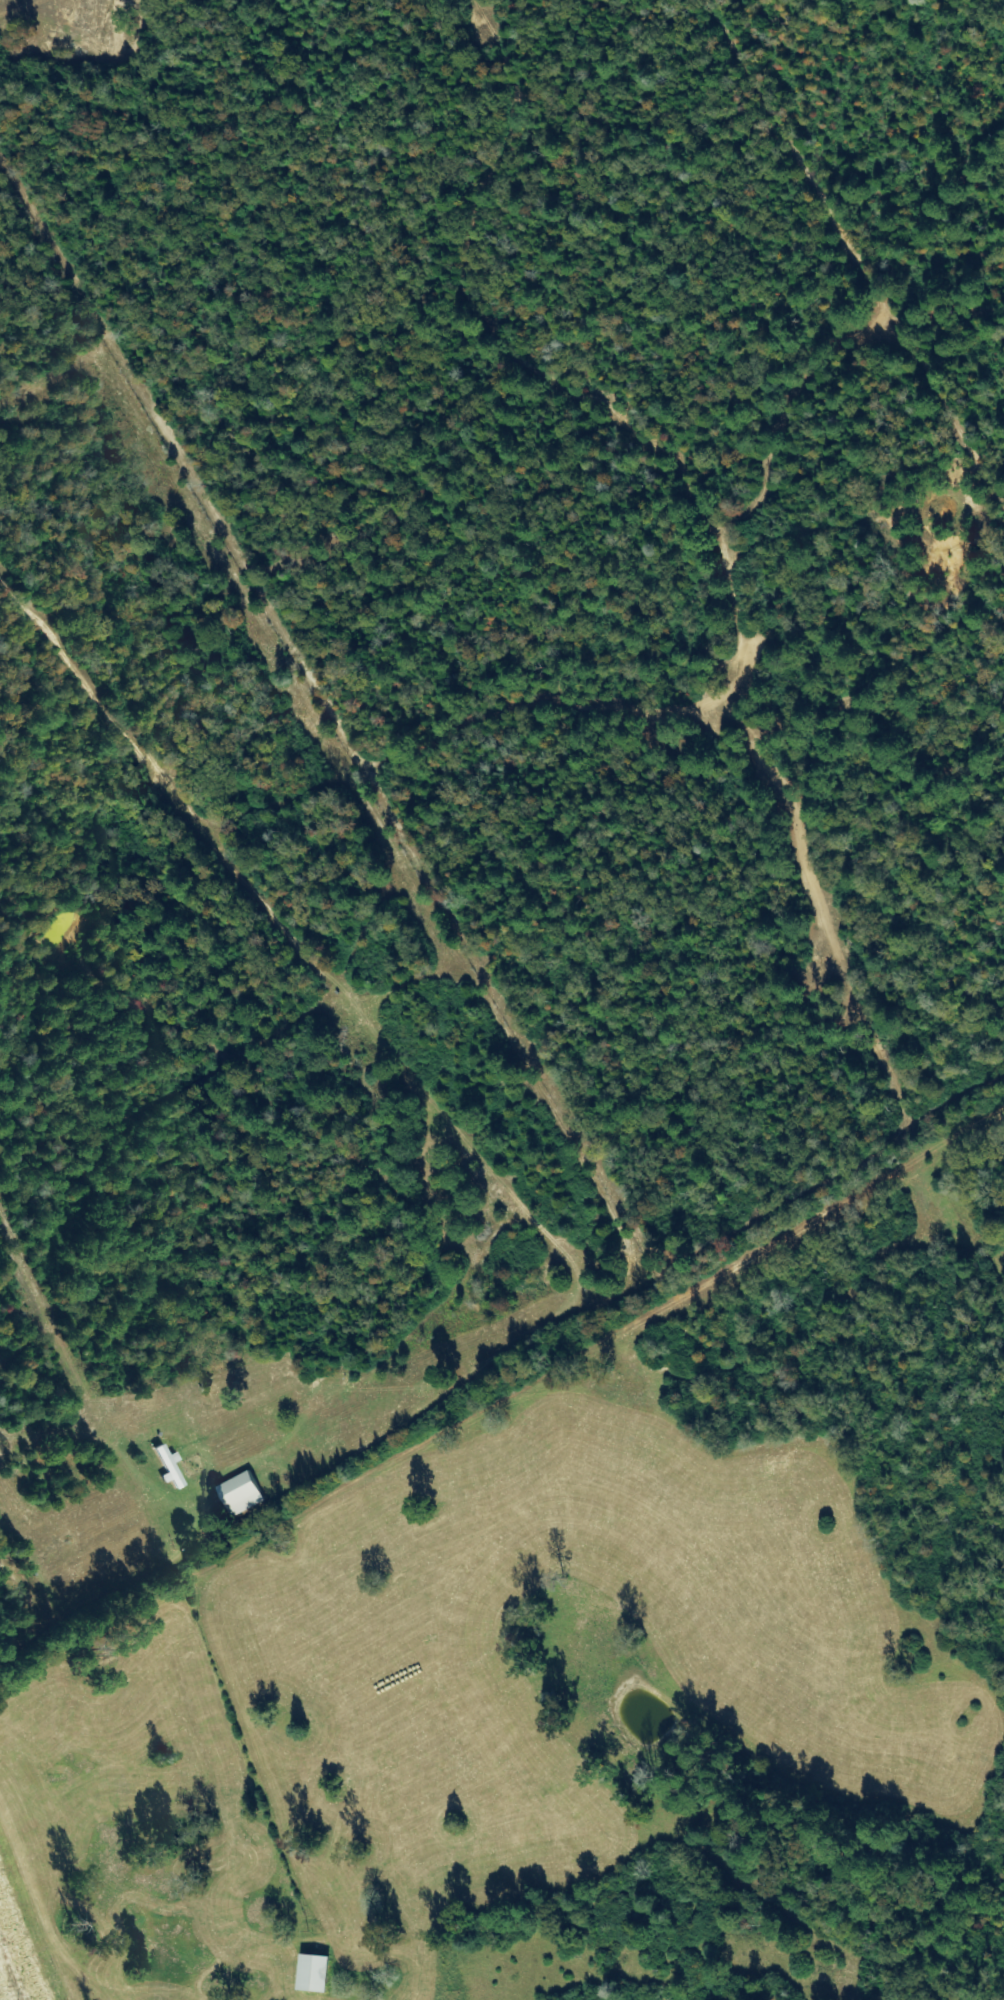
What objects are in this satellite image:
building: (169, 1468)
building: (243, 1493)
building: (318, 1973)

